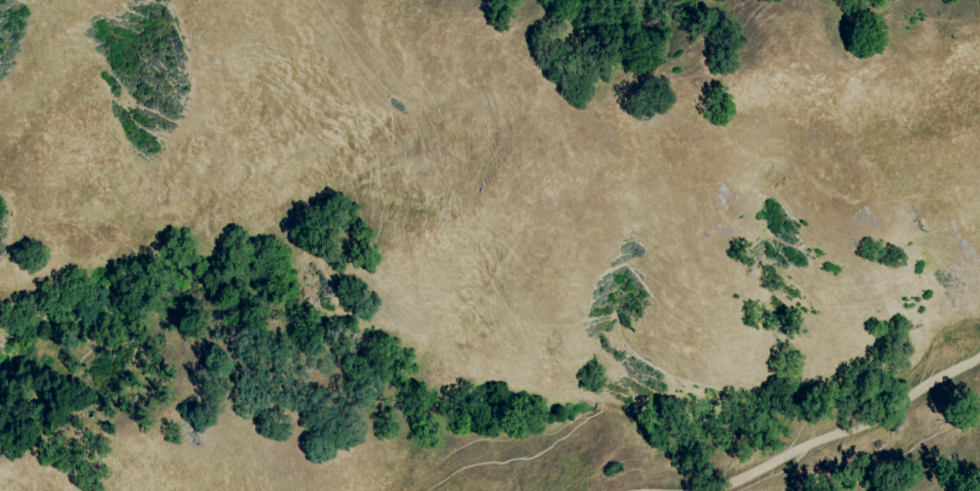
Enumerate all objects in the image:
road: (852, 432)

